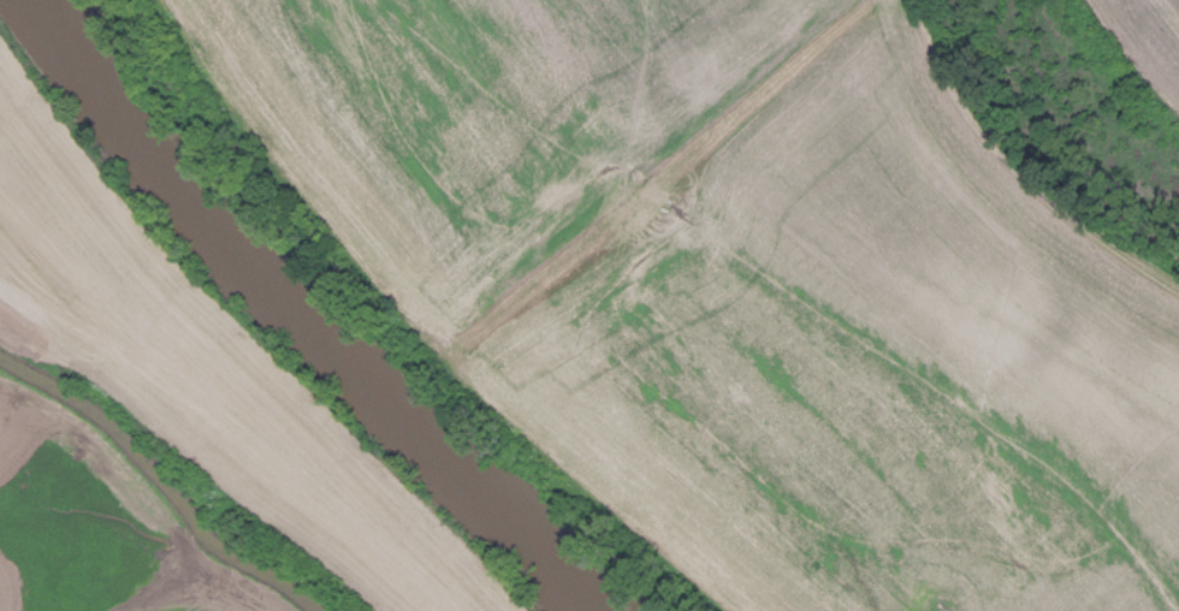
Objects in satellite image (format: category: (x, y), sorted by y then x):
road: (995, 173)

